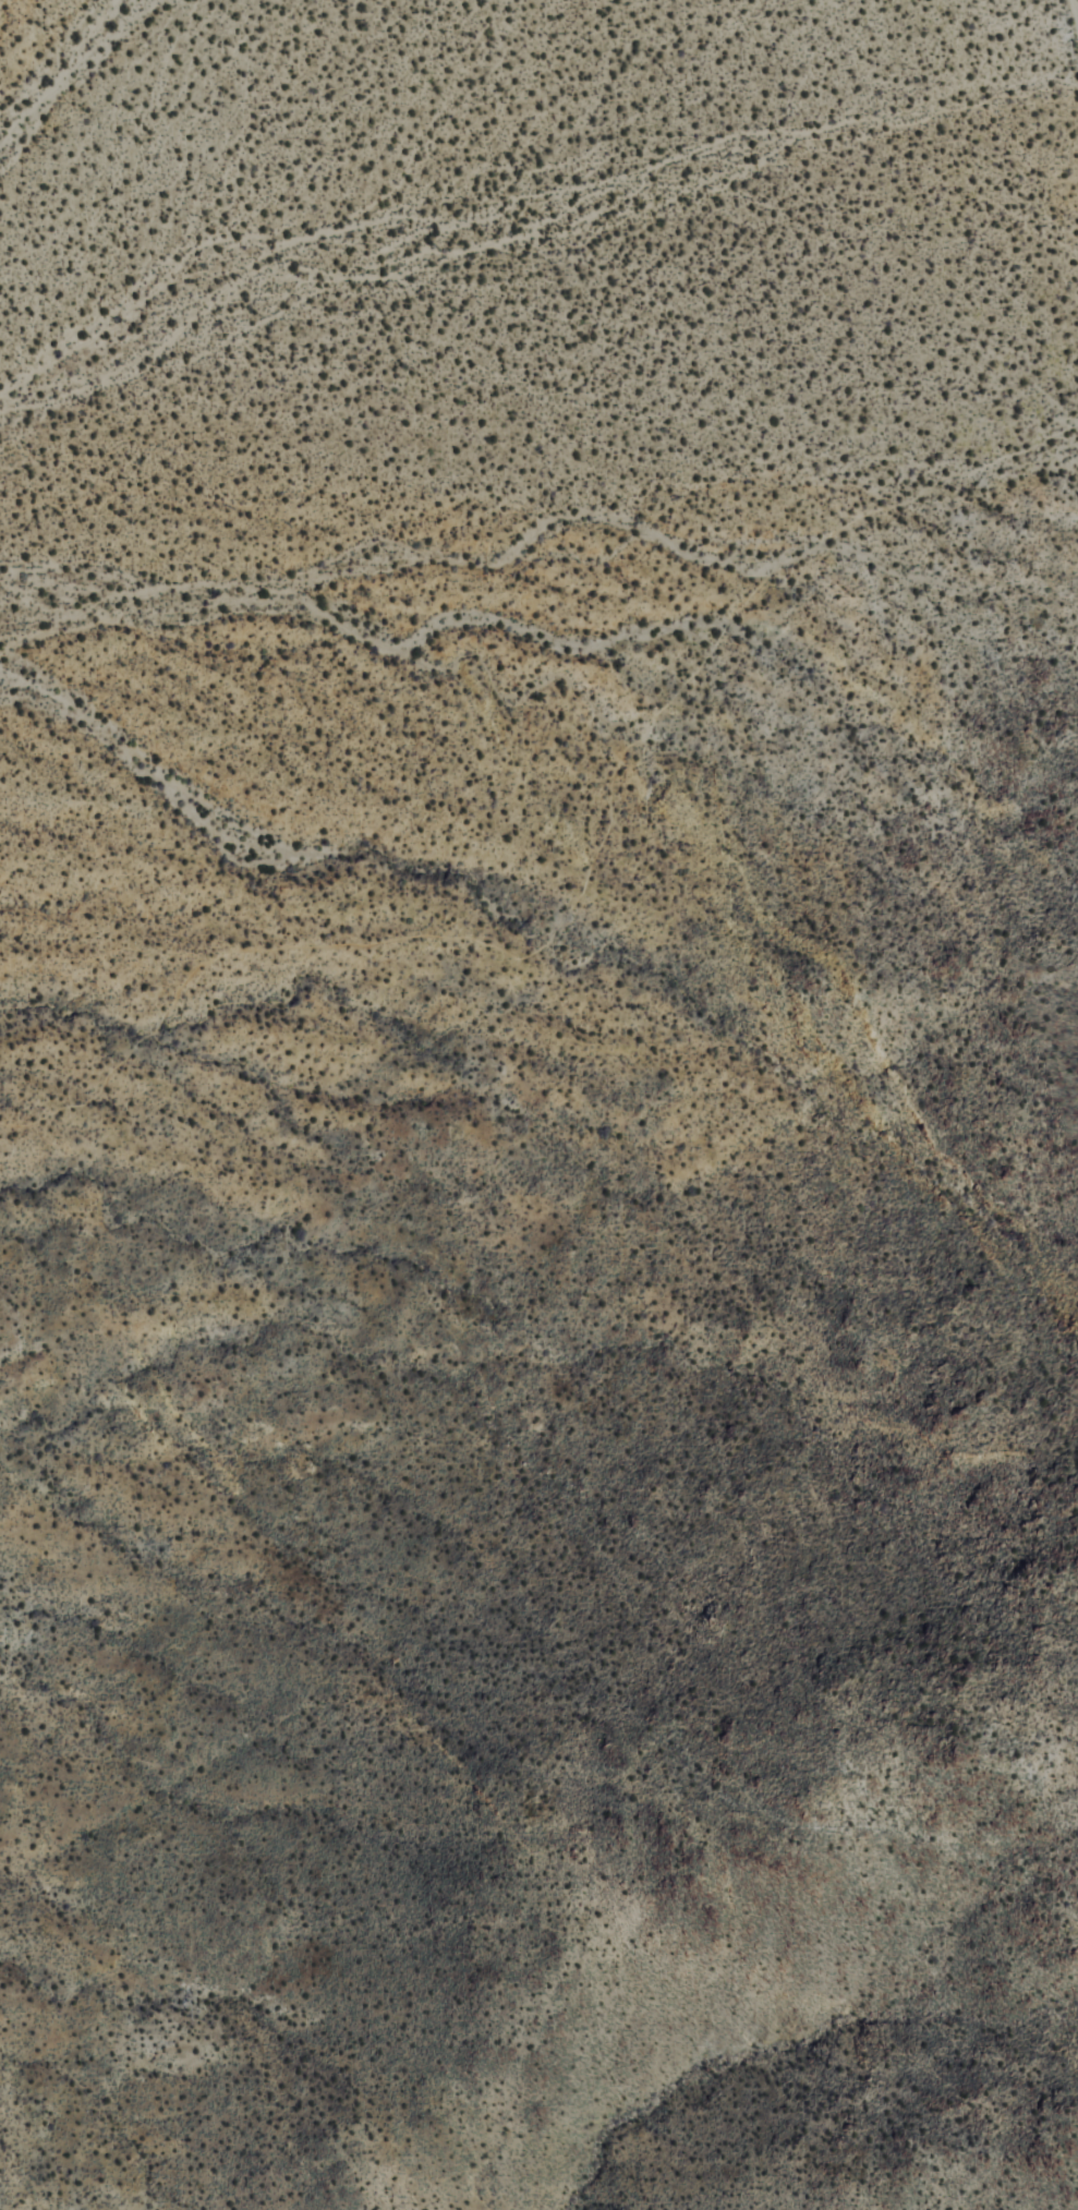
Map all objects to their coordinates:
road: (589, 873)

